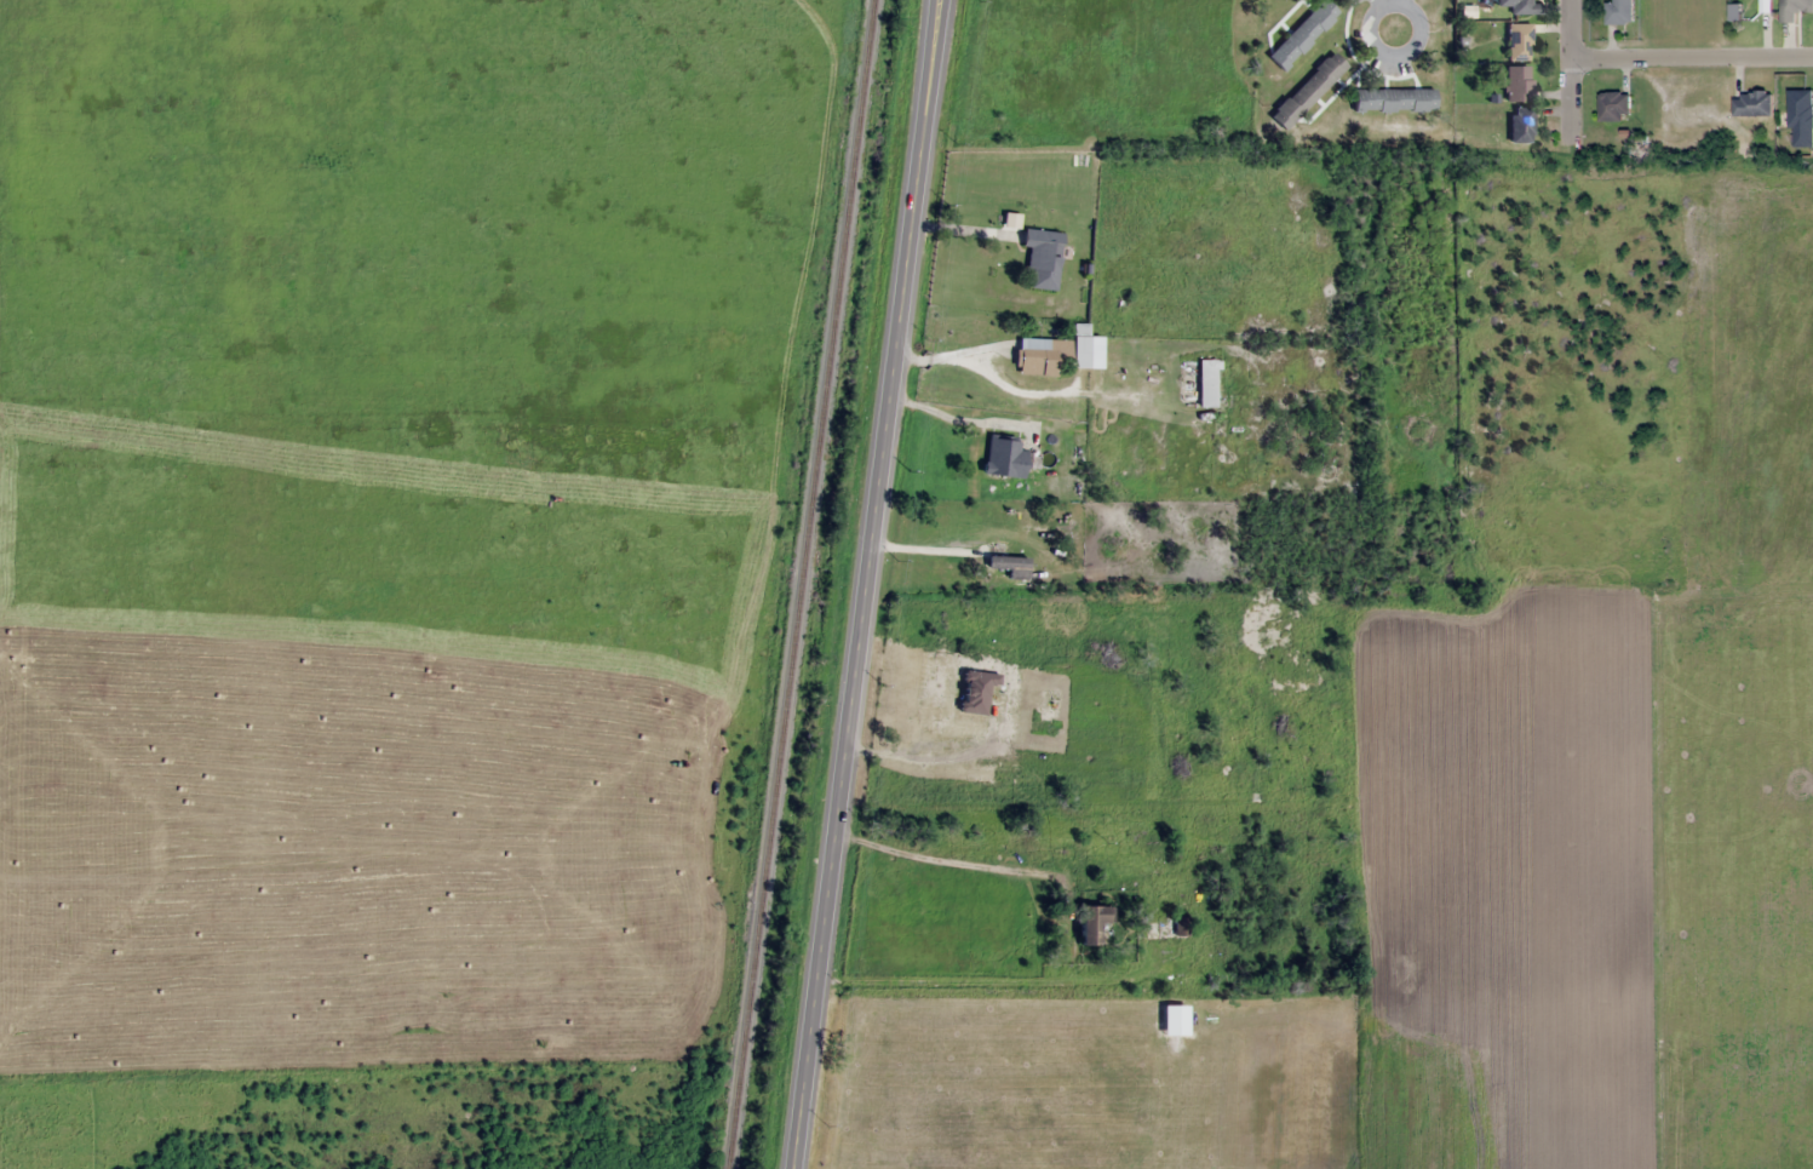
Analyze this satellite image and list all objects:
road: (1378, 2)
building: (1520, 6)
building: (1792, 8)
building: (1618, 12)
building: (1302, 33)
building: (1519, 41)
road: (1383, 56)
road: (1574, 68)
building: (1516, 82)
building: (1307, 90)
building: (1393, 99)
building: (1751, 103)
building: (1613, 105)
building: (1801, 118)
building: (1520, 124)
building: (1042, 256)
building: (1051, 351)
road: (1754, 376)
building: (1206, 382)
building: (1004, 457)
road: (1697, 534)
railway: (799, 584)
road: (866, 584)
building: (1091, 922)
building: (1180, 926)
road: (989, 980)

